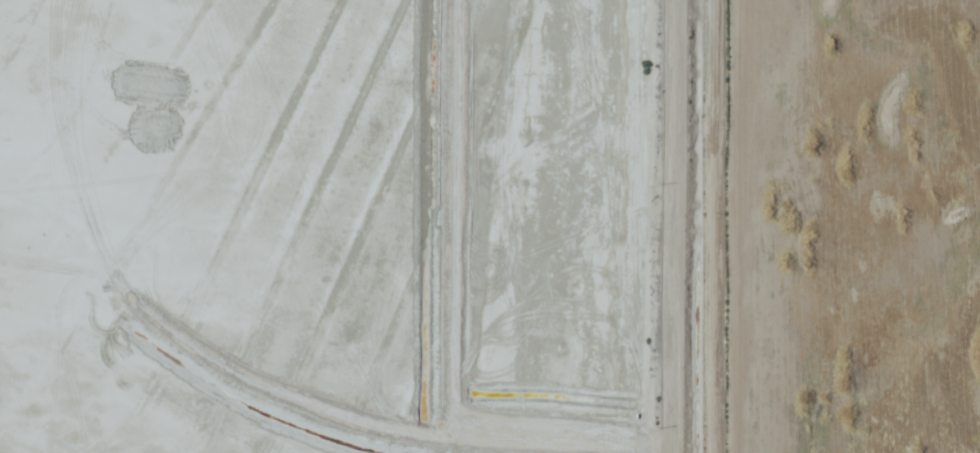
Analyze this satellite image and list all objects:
road: (655, 226)

